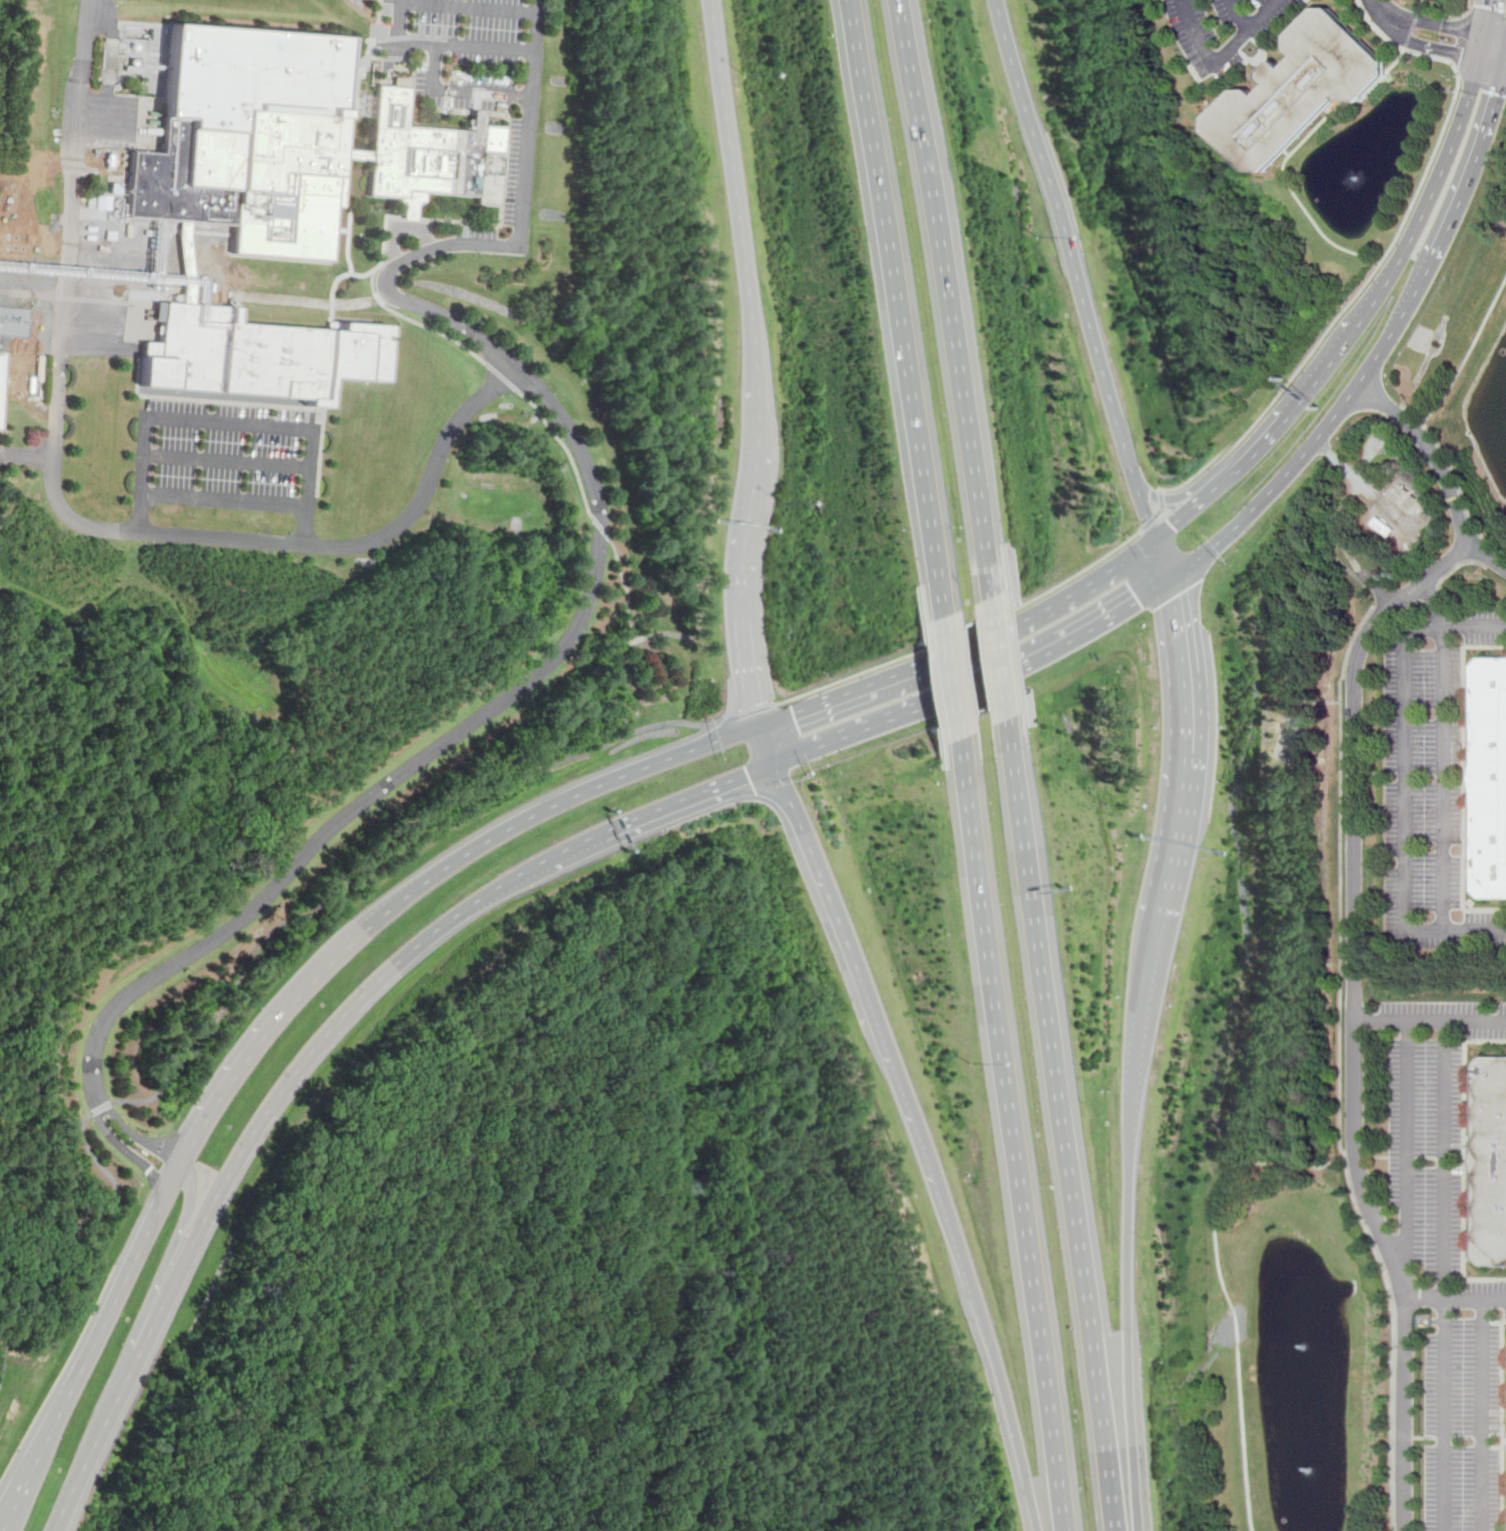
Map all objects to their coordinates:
road: (468, 6)
road: (1420, 6)
road: (1468, 8)
traffic signals: (1491, 8)
road: (1454, 13)
road: (1236, 15)
road: (1489, 17)
road: (1427, 22)
road: (1283, 23)
road: (1462, 23)
road: (1376, 28)
parking lot: (1224, 29)
road: (1411, 31)
road: (1496, 36)
road: (444, 44)
road: (1418, 44)
road: (1483, 47)
traffic signals: (1462, 55)
road: (1218, 59)
road: (1493, 63)
parking lot: (479, 81)
road: (460, 88)
building: (1295, 93)
traffic signals: (1499, 93)
building: (351, 104)
building: (287, 144)
road: (1450, 156)
road: (1298, 200)
road: (743, 219)
road: (1078, 270)
road: (1367, 282)
road: (937, 306)
road: (887, 316)
road: (418, 322)
road: (1382, 352)
building: (260, 353)
road: (1469, 358)
building: (2, 376)
road: (502, 376)
road: (1319, 378)
building: (285, 400)
road: (1411, 413)
road: (230, 423)
road: (1419, 430)
road: (566, 447)
road: (24, 456)
parking lot: (228, 457)
road: (228, 458)
road: (1335, 458)
road: (1365, 459)
road: (1463, 492)
road: (1183, 499)
road: (225, 500)
road: (1380, 500)
road: (1162, 512)
road: (1185, 516)
road: (75, 522)
traffic signals: (1175, 526)
road: (602, 527)
road: (599, 557)
road: (1487, 557)
road: (1165, 560)
road: (743, 582)
road: (1440, 583)
traffic signals: (1175, 599)
traffic signals: (1140, 600)
road: (1065, 601)
road: (1412, 604)
road: (1438, 605)
road: (1383, 615)
parking lot: (1486, 626)
road: (964, 630)
road: (1088, 630)
road: (629, 642)
road: (988, 657)
road: (940, 677)
road: (863, 690)
traffic signals: (755, 704)
road: (745, 713)
traffic signals: (793, 714)
road: (767, 744)
road: (1188, 746)
road: (1442, 748)
traffic signals: (746, 775)
road: (729, 780)
building: (1490, 782)
road: (596, 786)
parking lot: (1428, 799)
road: (1405, 816)
road: (379, 859)
road: (1352, 918)
road: (847, 954)
road: (294, 998)
road: (1428, 1022)
road: (1338, 1071)
road: (102, 1108)
road: (268, 1111)
road: (1055, 1116)
parking lot: (1430, 1124)
road: (1005, 1126)
road: (135, 1134)
road: (1405, 1142)
road: (129, 1148)
road: (1353, 1157)
road: (1376, 1158)
building: (1491, 1163)
road: (1125, 1220)
road: (66, 1234)
road: (134, 1260)
road: (166, 1262)
road: (1444, 1276)
road: (1221, 1292)
parking lot: (1488, 1293)
road: (1454, 1299)
road: (984, 1336)
road: (72, 1391)
road: (1482, 1415)
parking lot: (1463, 1427)
road: (102, 1429)
road: (30, 1475)
road: (60, 1513)

